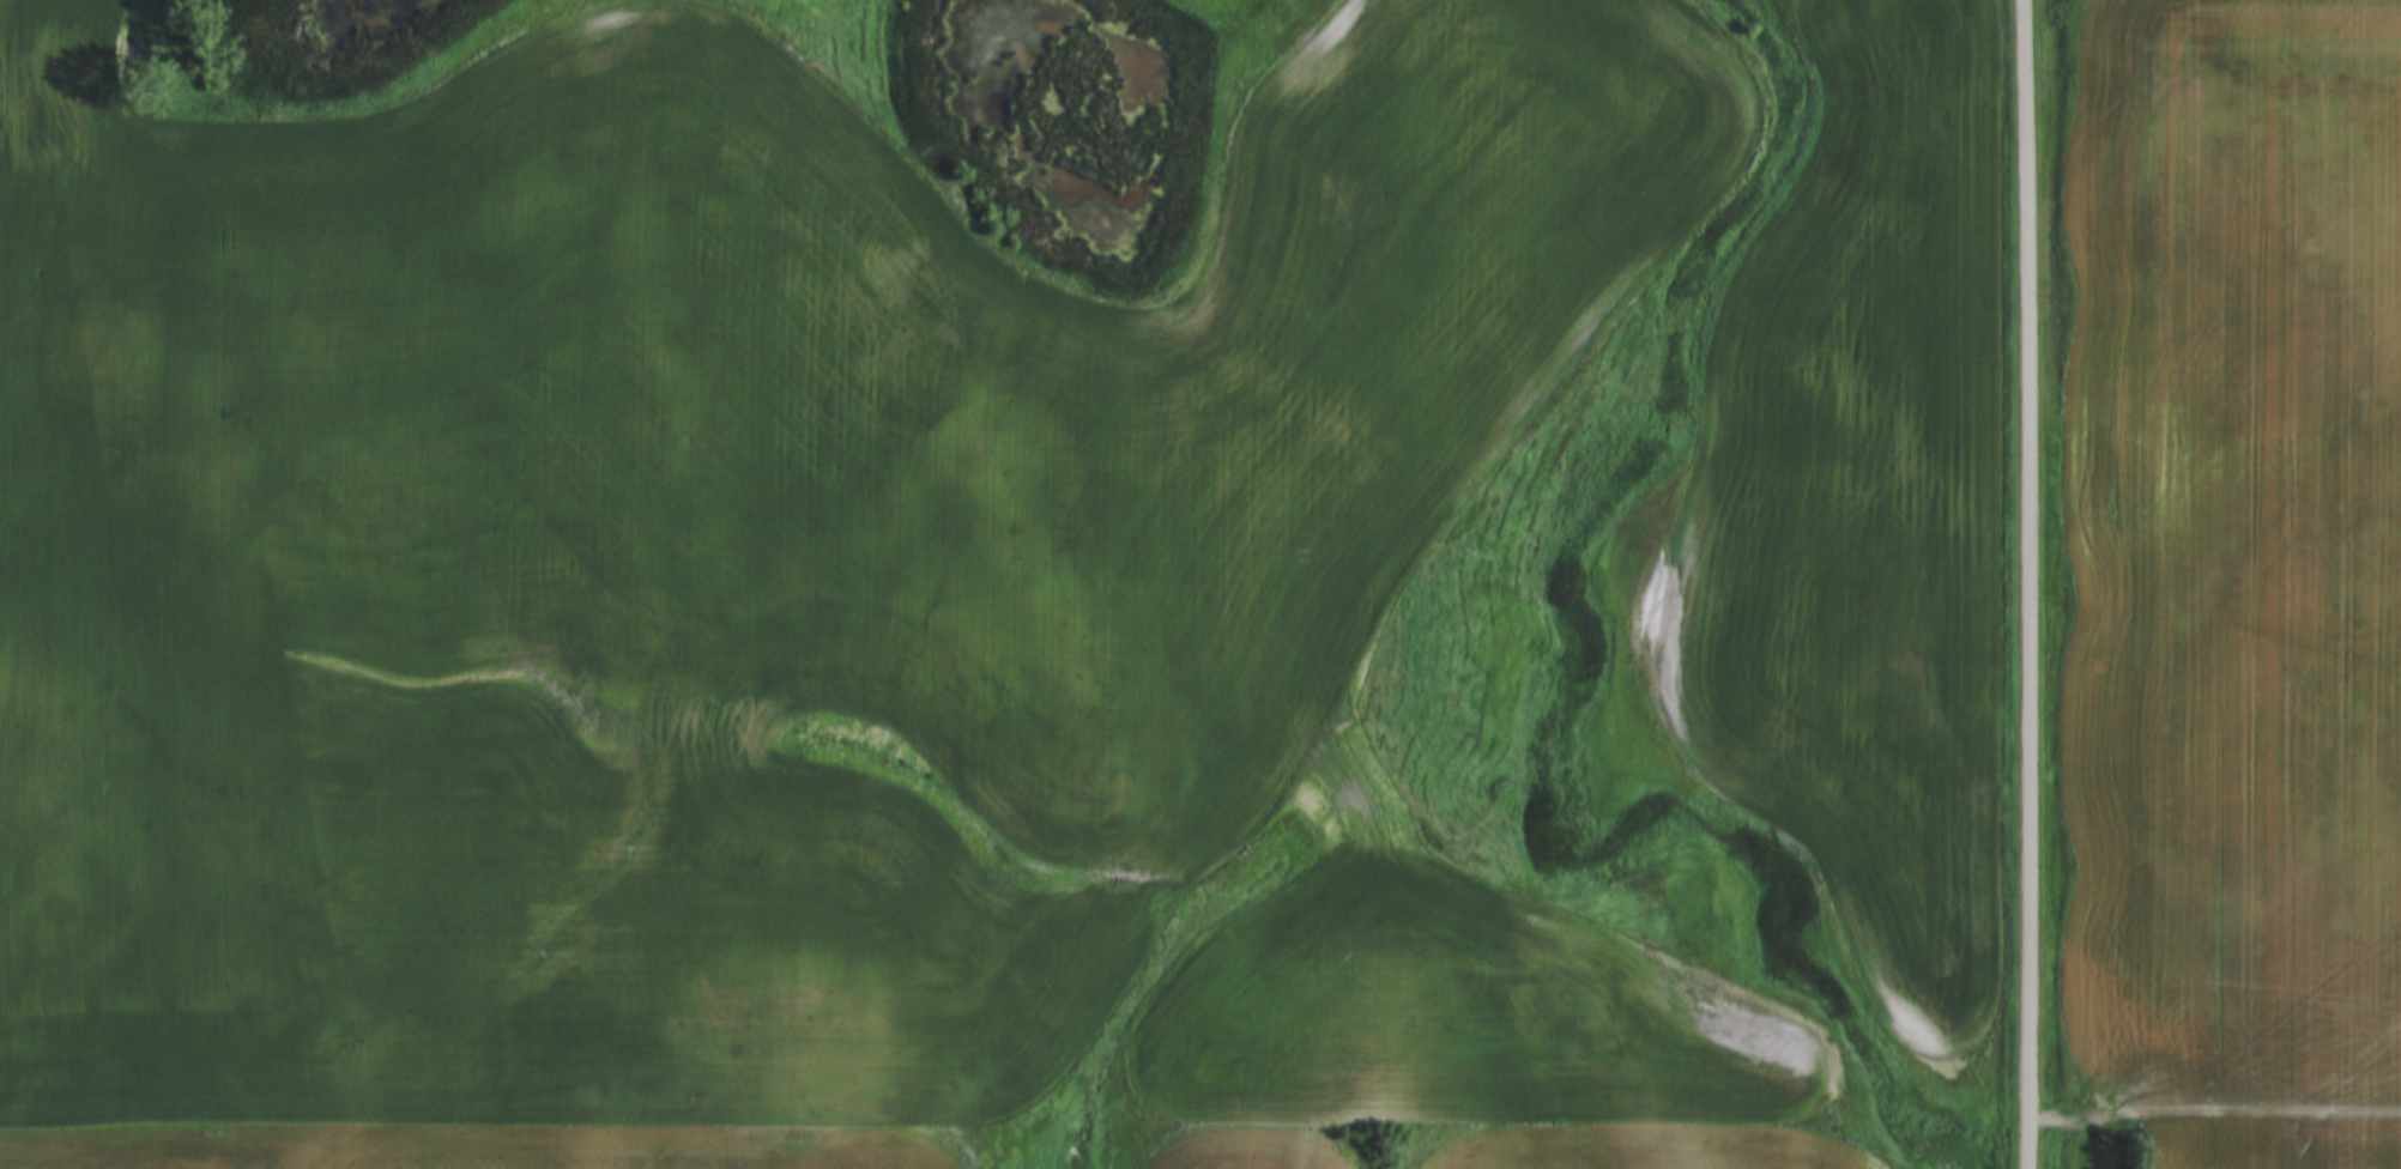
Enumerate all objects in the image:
road: (2032, 584)

